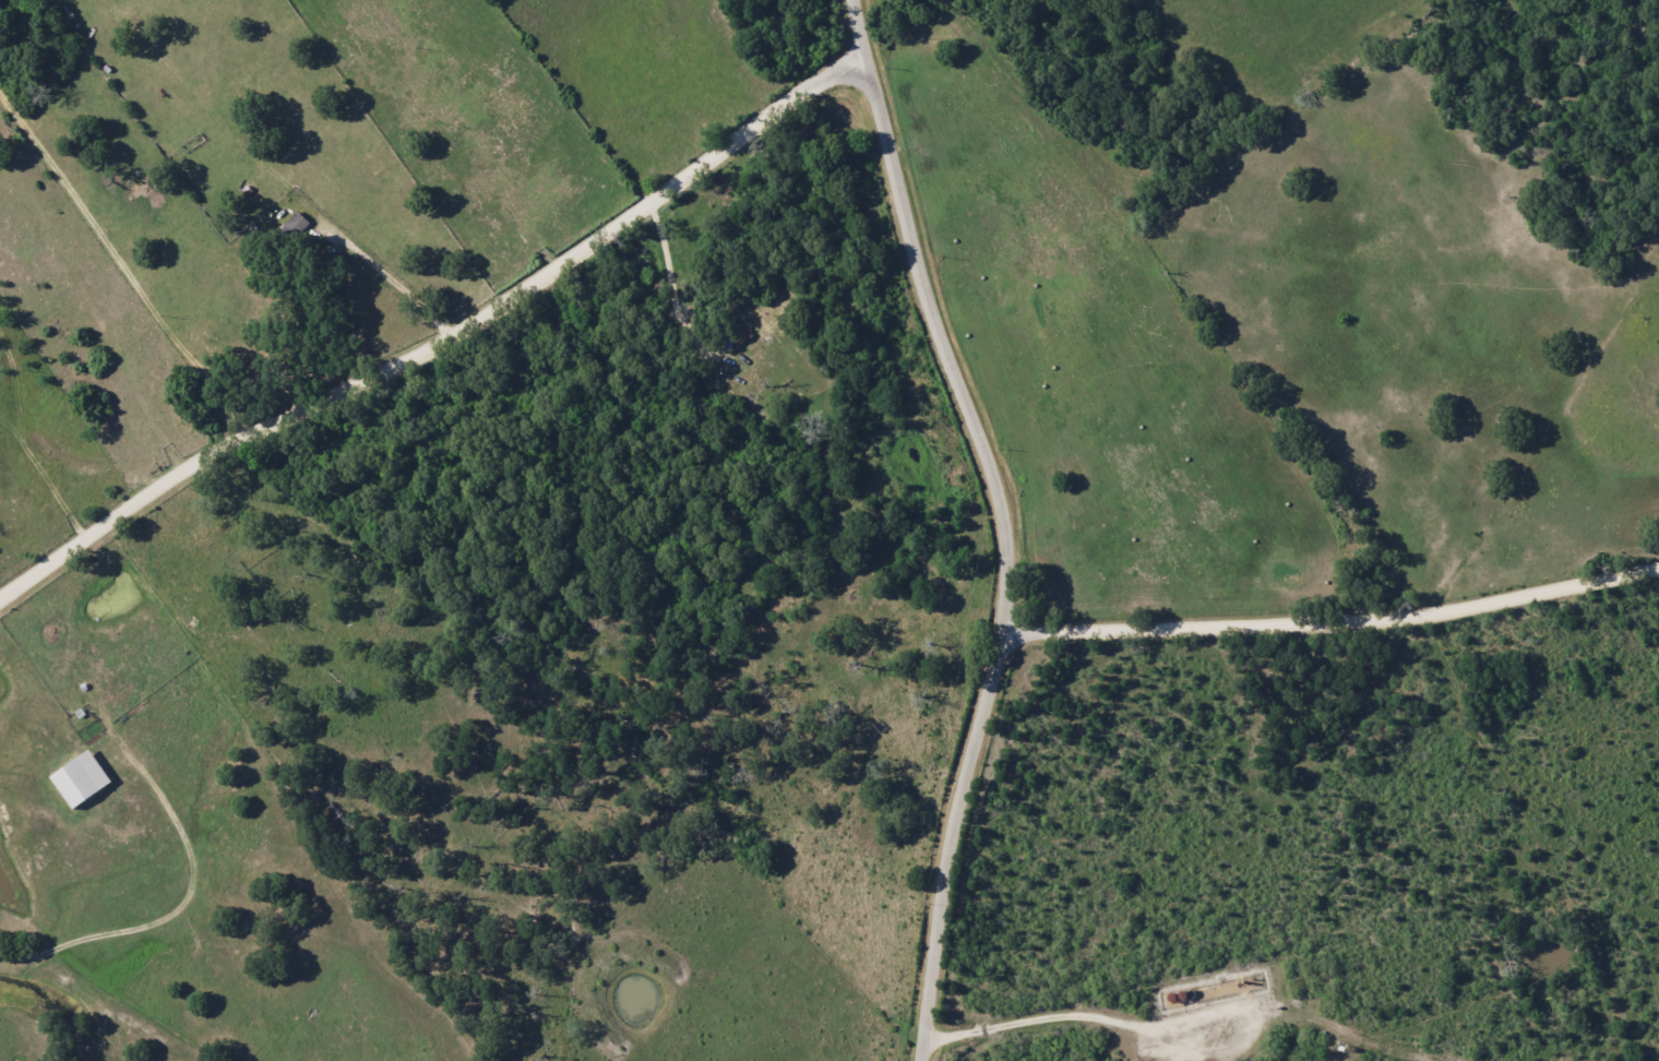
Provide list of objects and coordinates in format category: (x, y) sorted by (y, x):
road: (92, 300)
road: (441, 342)
road: (1011, 523)
road: (1337, 625)
building: (80, 778)

